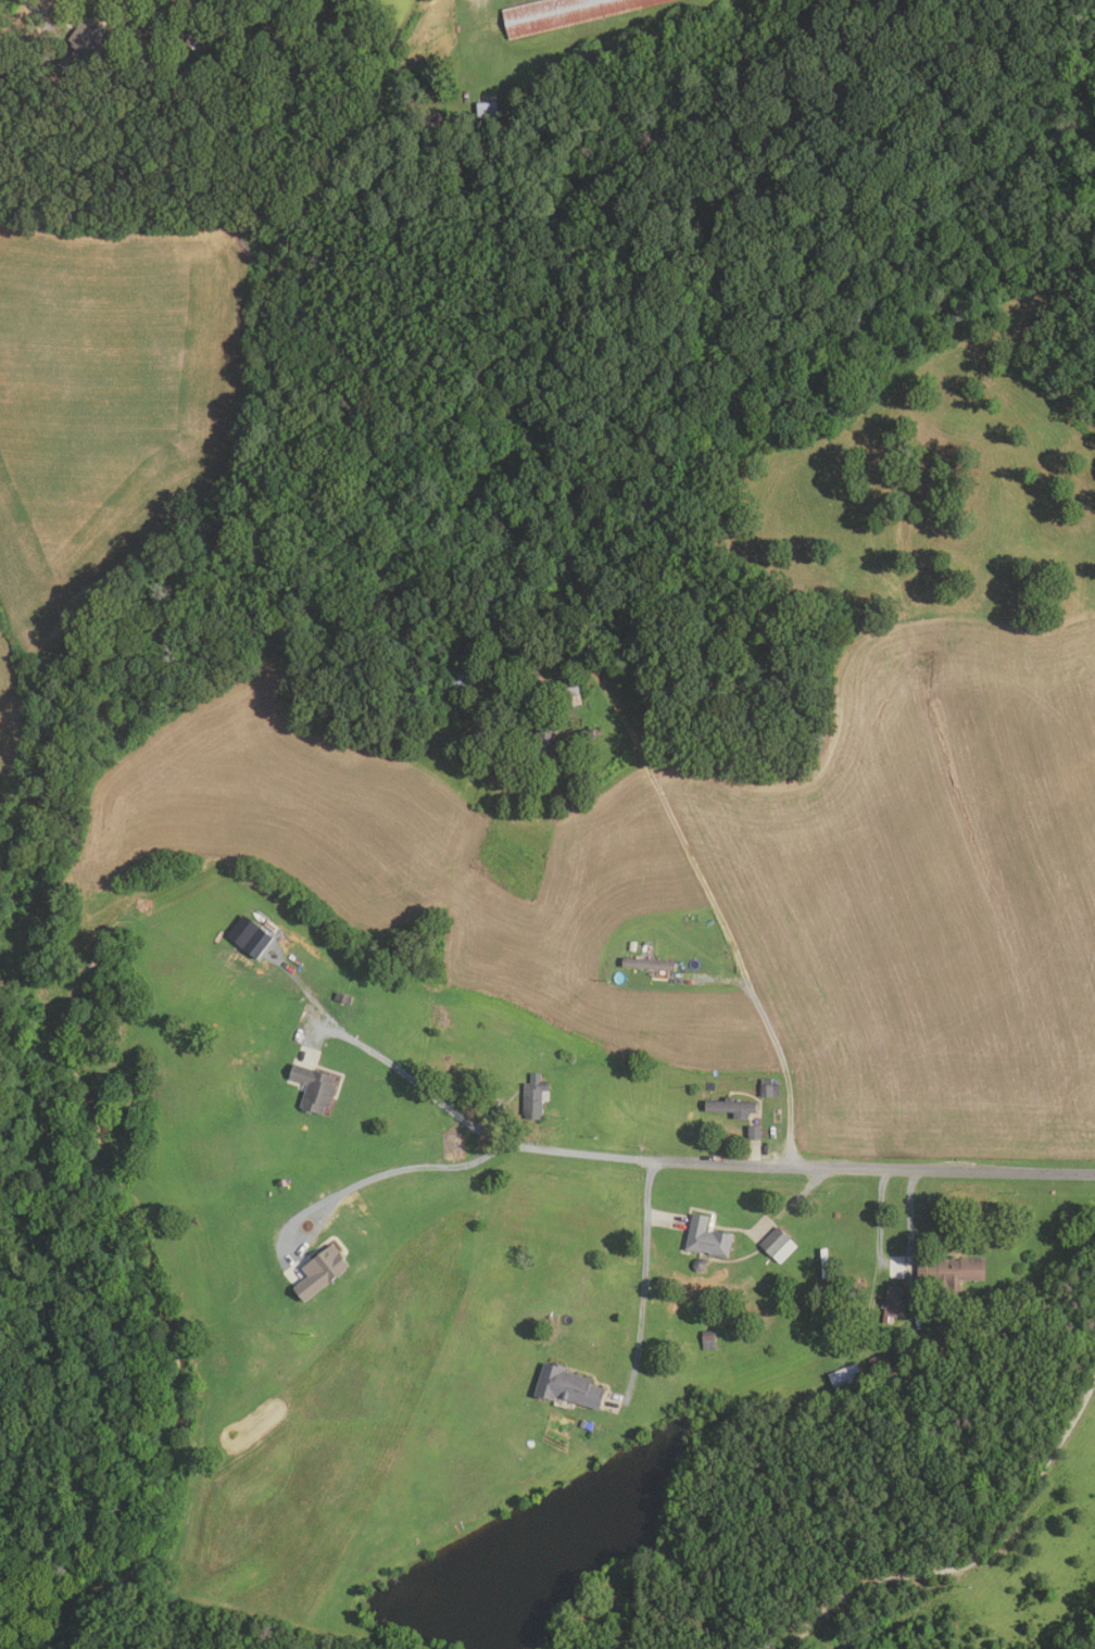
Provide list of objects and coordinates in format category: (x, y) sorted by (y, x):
building: (564, 14)
road: (41, 22)
building: (198, 37)
building: (83, 43)
building: (488, 111)
building: (98, 126)
building: (579, 638)
building: (460, 681)
building: (569, 691)
building: (571, 701)
building: (542, 732)
building: (587, 734)
road: (664, 801)
building: (256, 941)
building: (646, 964)
road: (714, 979)
building: (341, 997)
road: (785, 1072)
road: (416, 1073)
building: (312, 1087)
building: (767, 1087)
building: (533, 1095)
building: (730, 1106)
building: (752, 1131)
building: (454, 1146)
road: (753, 1154)
road: (403, 1165)
road: (801, 1166)
road: (647, 1187)
road: (662, 1219)
building: (706, 1237)
building: (777, 1244)
building: (319, 1270)
road: (895, 1270)
building: (949, 1272)
building: (893, 1300)
road: (644, 1302)
building: (707, 1339)
building: (879, 1364)
building: (844, 1376)
building: (565, 1386)
building: (581, 1423)
road: (979, 1552)

